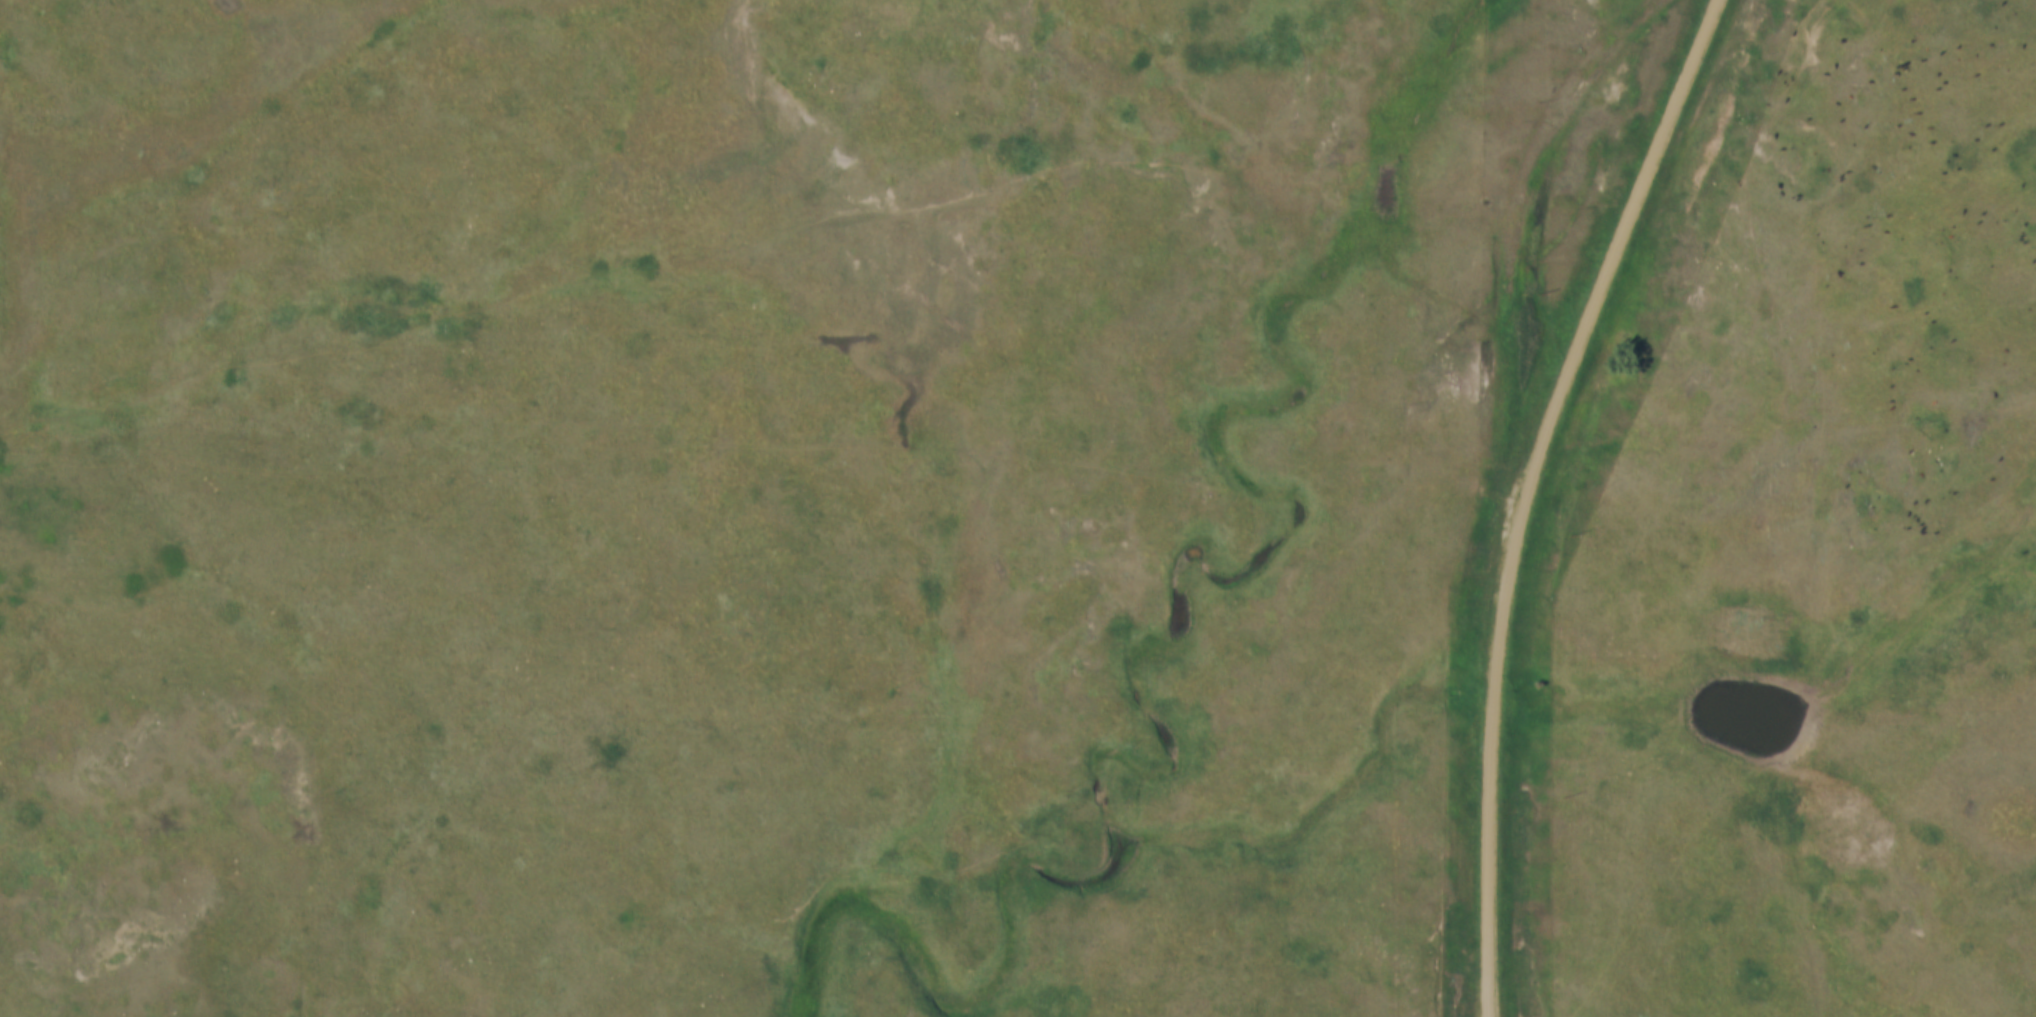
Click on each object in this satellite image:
road: (1528, 492)

